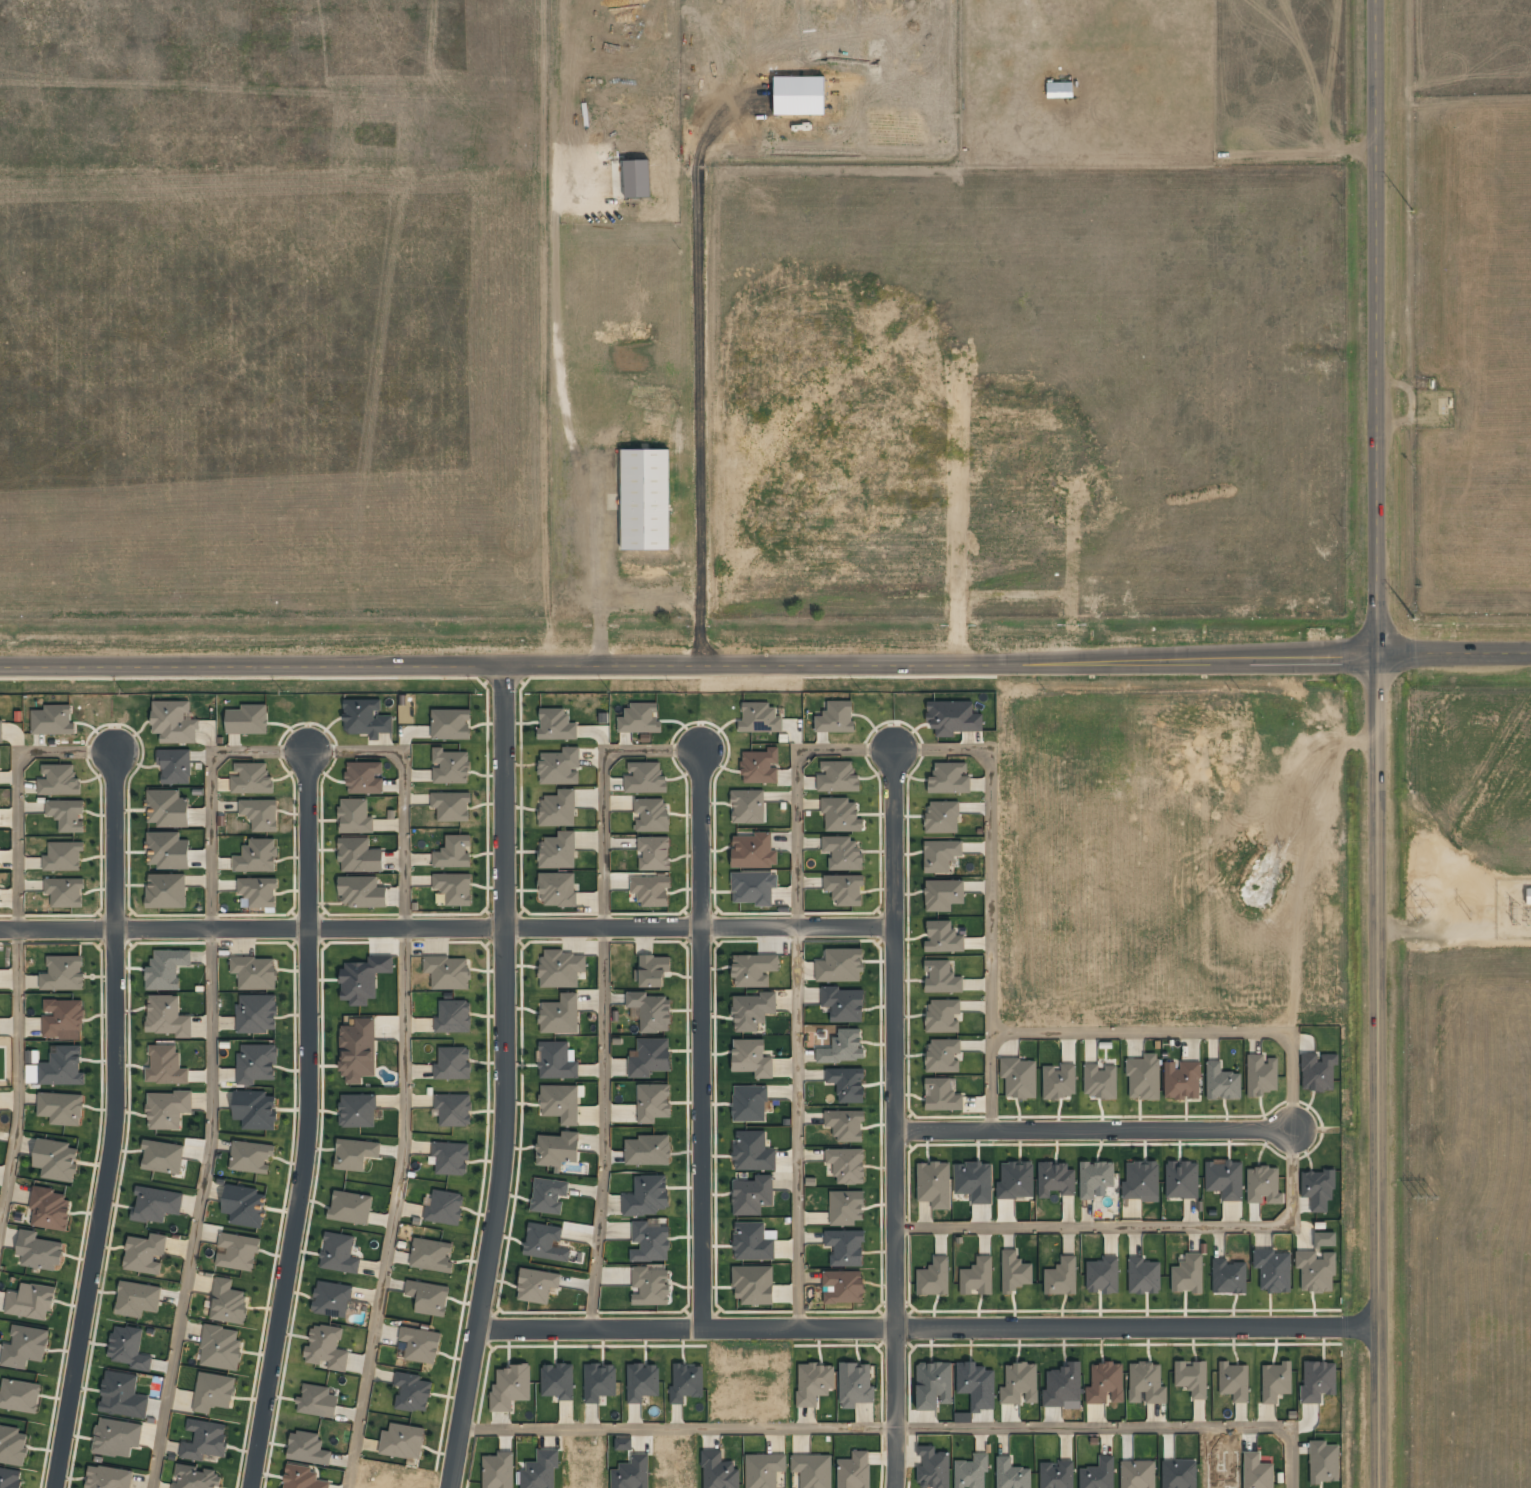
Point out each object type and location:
building: (1059, 90)
power tower: (1413, 210)
road: (1376, 327)
building: (644, 499)
power tower: (1415, 618)
road: (1454, 654)
road: (688, 656)
building: (835, 717)
building: (366, 718)
building: (760, 718)
building: (953, 718)
building: (639, 719)
building: (53, 720)
building: (247, 720)
building: (174, 722)
building: (450, 724)
building: (556, 725)
building: (0, 729)
building: (1080, 747)
road: (309, 748)
building: (175, 766)
building: (450, 766)
building: (760, 766)
building: (559, 767)
building: (837, 777)
building: (364, 778)
building: (644, 778)
building: (949, 778)
building: (251, 779)
building: (58, 780)
building: (450, 806)
building: (748, 807)
building: (167, 808)
building: (558, 808)
building: (260, 814)
building: (651, 814)
building: (66, 815)
building: (841, 815)
building: (354, 816)
building: (941, 817)
road: (894, 838)
road: (701, 839)
building: (167, 850)
building: (558, 851)
building: (753, 851)
building: (453, 852)
building: (654, 853)
building: (843, 853)
building: (359, 855)
building: (940, 855)
building: (63, 856)
building: (257, 856)
building: (753, 887)
building: (557, 889)
building: (844, 889)
building: (165, 890)
building: (650, 890)
building: (258, 891)
building: (362, 892)
building: (67, 893)
building: (943, 894)
building: (1528, 896)
building: (458, 899)
building: (0, 902)
power substation: (1514, 910)
power tower: (1425, 914)
power tower: (1470, 914)
road: (252, 927)
road: (604, 927)
road: (798, 928)
building: (943, 937)
road: (19, 947)
building: (840, 965)
building: (166, 969)
building: (561, 969)
building: (753, 969)
building: (652, 970)
building: (254, 972)
building: (447, 972)
building: (63, 973)
building: (941, 977)
building: (363, 979)
building: (844, 1004)
building: (650, 1011)
building: (752, 1011)
building: (560, 1014)
building: (943, 1015)
building: (167, 1016)
building: (63, 1017)
building: (453, 1017)
building: (257, 1018)
road: (895, 1029)
building: (843, 1047)
building: (357, 1050)
building: (943, 1055)
building: (649, 1057)
building: (751, 1058)
building: (556, 1061)
building: (255, 1062)
building: (452, 1064)
building: (165, 1066)
building: (62, 1067)
road: (1377, 1071)
building: (1317, 1072)
building: (1261, 1074)
road: (506, 1076)
building: (1143, 1077)
building: (1019, 1078)
building: (1182, 1080)
building: (1099, 1081)
building: (1059, 1082)
building: (1221, 1082)
building: (847, 1084)
building: (941, 1095)
building: (652, 1102)
building: (560, 1103)
building: (749, 1103)
building: (61, 1108)
building: (167, 1109)
building: (453, 1109)
building: (255, 1110)
building: (356, 1111)
road: (312, 1120)
road: (117, 1121)
building: (845, 1125)
road: (703, 1128)
road: (1095, 1129)
building: (557, 1149)
building: (647, 1150)
building: (752, 1151)
building: (354, 1154)
building: (251, 1156)
building: (162, 1157)
building: (450, 1158)
building: (56, 1160)
building: (847, 1165)
building: (1095, 1178)
building: (1055, 1179)
building: (1224, 1179)
building: (1015, 1180)
building: (1181, 1180)
building: (974, 1181)
building: (1141, 1181)
building: (934, 1184)
building: (1263, 1186)
building: (1317, 1189)
building: (548, 1195)
building: (752, 1195)
building: (646, 1196)
building: (156, 1204)
building: (244, 1205)
building: (350, 1207)
building: (845, 1207)
building: (444, 1208)
building: (49, 1209)
road: (897, 1229)
building: (650, 1240)
building: (545, 1242)
building: (752, 1242)
building: (845, 1247)
building: (39, 1251)
building: (237, 1251)
building: (144, 1253)
building: (338, 1253)
building: (431, 1255)
building: (1273, 1270)
building: (1315, 1271)
building: (1014, 1272)
building: (1103, 1275)
building: (1187, 1275)
building: (1143, 1276)
building: (977, 1277)
building: (1061, 1277)
building: (1228, 1277)
building: (933, 1278)
building: (753, 1284)
building: (536, 1285)
building: (649, 1285)
building: (843, 1287)
building: (428, 1297)
building: (137, 1299)
building: (331, 1299)
building: (31, 1301)
building: (227, 1302)
road: (1137, 1326)
road: (801, 1328)
road: (592, 1329)
building: (420, 1345)
building: (25, 1346)
building: (128, 1348)
building: (220, 1348)
building: (326, 1349)
building: (1191, 1377)
building: (1317, 1380)
building: (557, 1381)
building: (599, 1381)
building: (642, 1381)
building: (1233, 1381)
building: (1275, 1381)
building: (686, 1383)
building: (813, 1383)
building: (1105, 1383)
building: (1146, 1383)
building: (1020, 1384)
building: (855, 1385)
building: (933, 1385)
building: (976, 1385)
building: (1062, 1385)
building: (510, 1387)
building: (213, 1392)
building: (412, 1392)
building: (20, 1395)
building: (122, 1395)
building: (317, 1401)
road: (898, 1408)
building: (117, 1437)
building: (204, 1440)
building: (398, 1440)
building: (623, 1443)
building: (12, 1445)
building: (307, 1448)
building: (1323, 1462)
building: (933, 1468)
building: (497, 1470)
building: (540, 1470)
building: (763, 1470)
building: (812, 1470)
building: (718, 1471)
building: (854, 1471)
building: (1256, 1471)
building: (971, 1472)
building: (631, 1473)
building: (1011, 1474)
building: (1056, 1474)
building: (1098, 1474)
building: (1137, 1474)
building: (1178, 1474)
building: (109, 1477)
building: (194, 1477)
building: (301, 1477)
building: (11, 1478)

